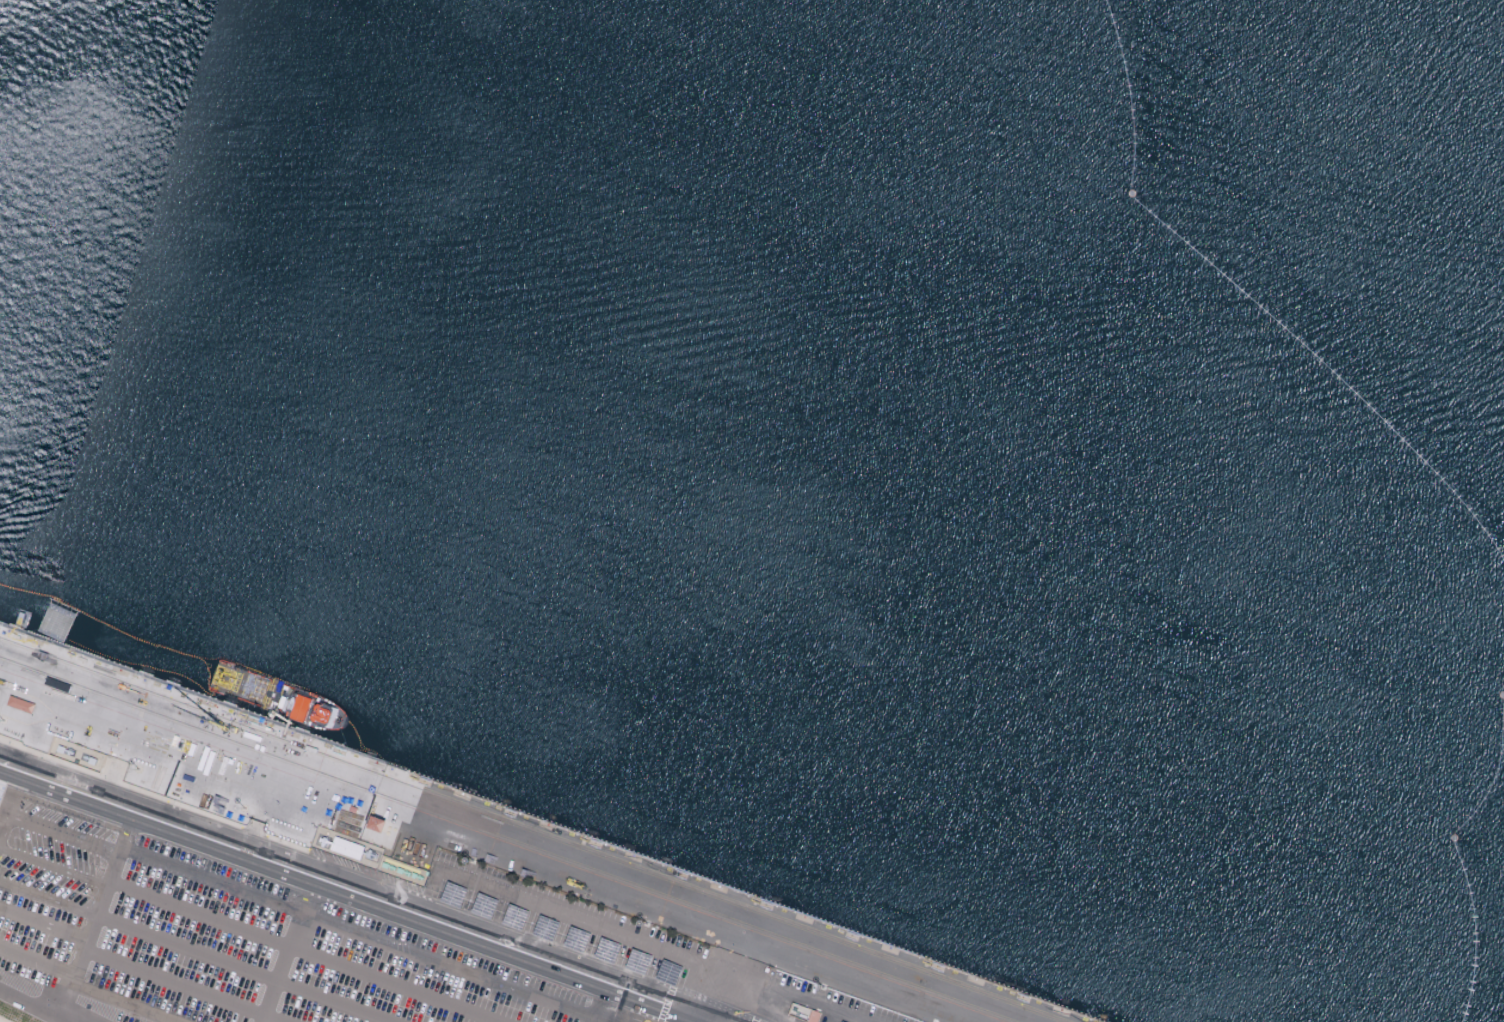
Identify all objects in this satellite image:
airport: (665, 546)
building: (19, 702)
road: (4, 766)
road: (11, 802)
road: (61, 836)
road: (53, 867)
road: (358, 894)
road: (48, 898)
road: (567, 917)
road: (43, 924)
road: (90, 932)
road: (359, 932)
parking lot: (219, 940)
road: (303, 951)
road: (278, 966)
road: (243, 969)
road: (180, 987)
road: (778, 991)
road: (67, 994)
road: (131, 999)
road: (46, 1006)
road: (777, 1009)

